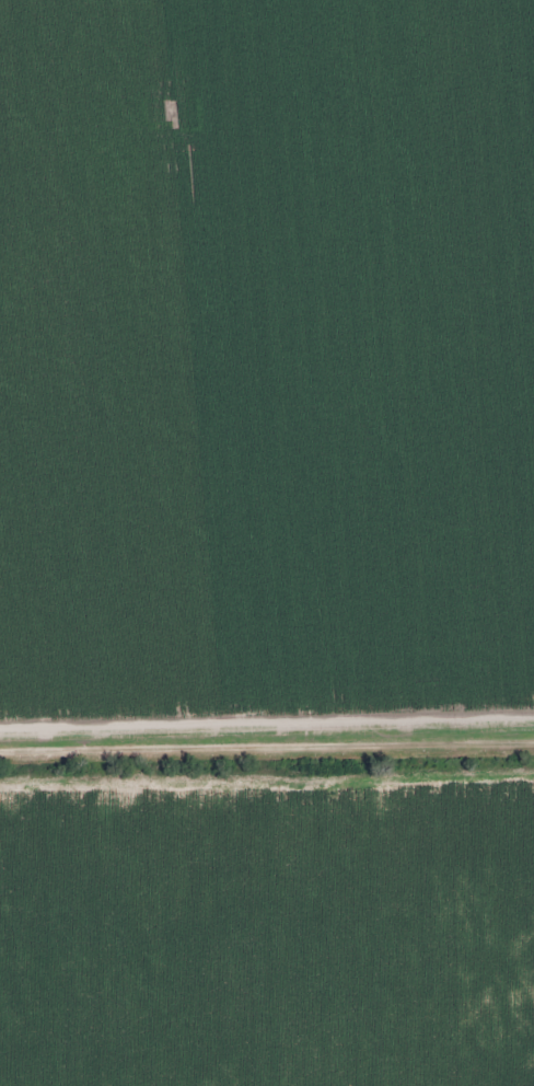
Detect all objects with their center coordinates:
road: (267, 740)

